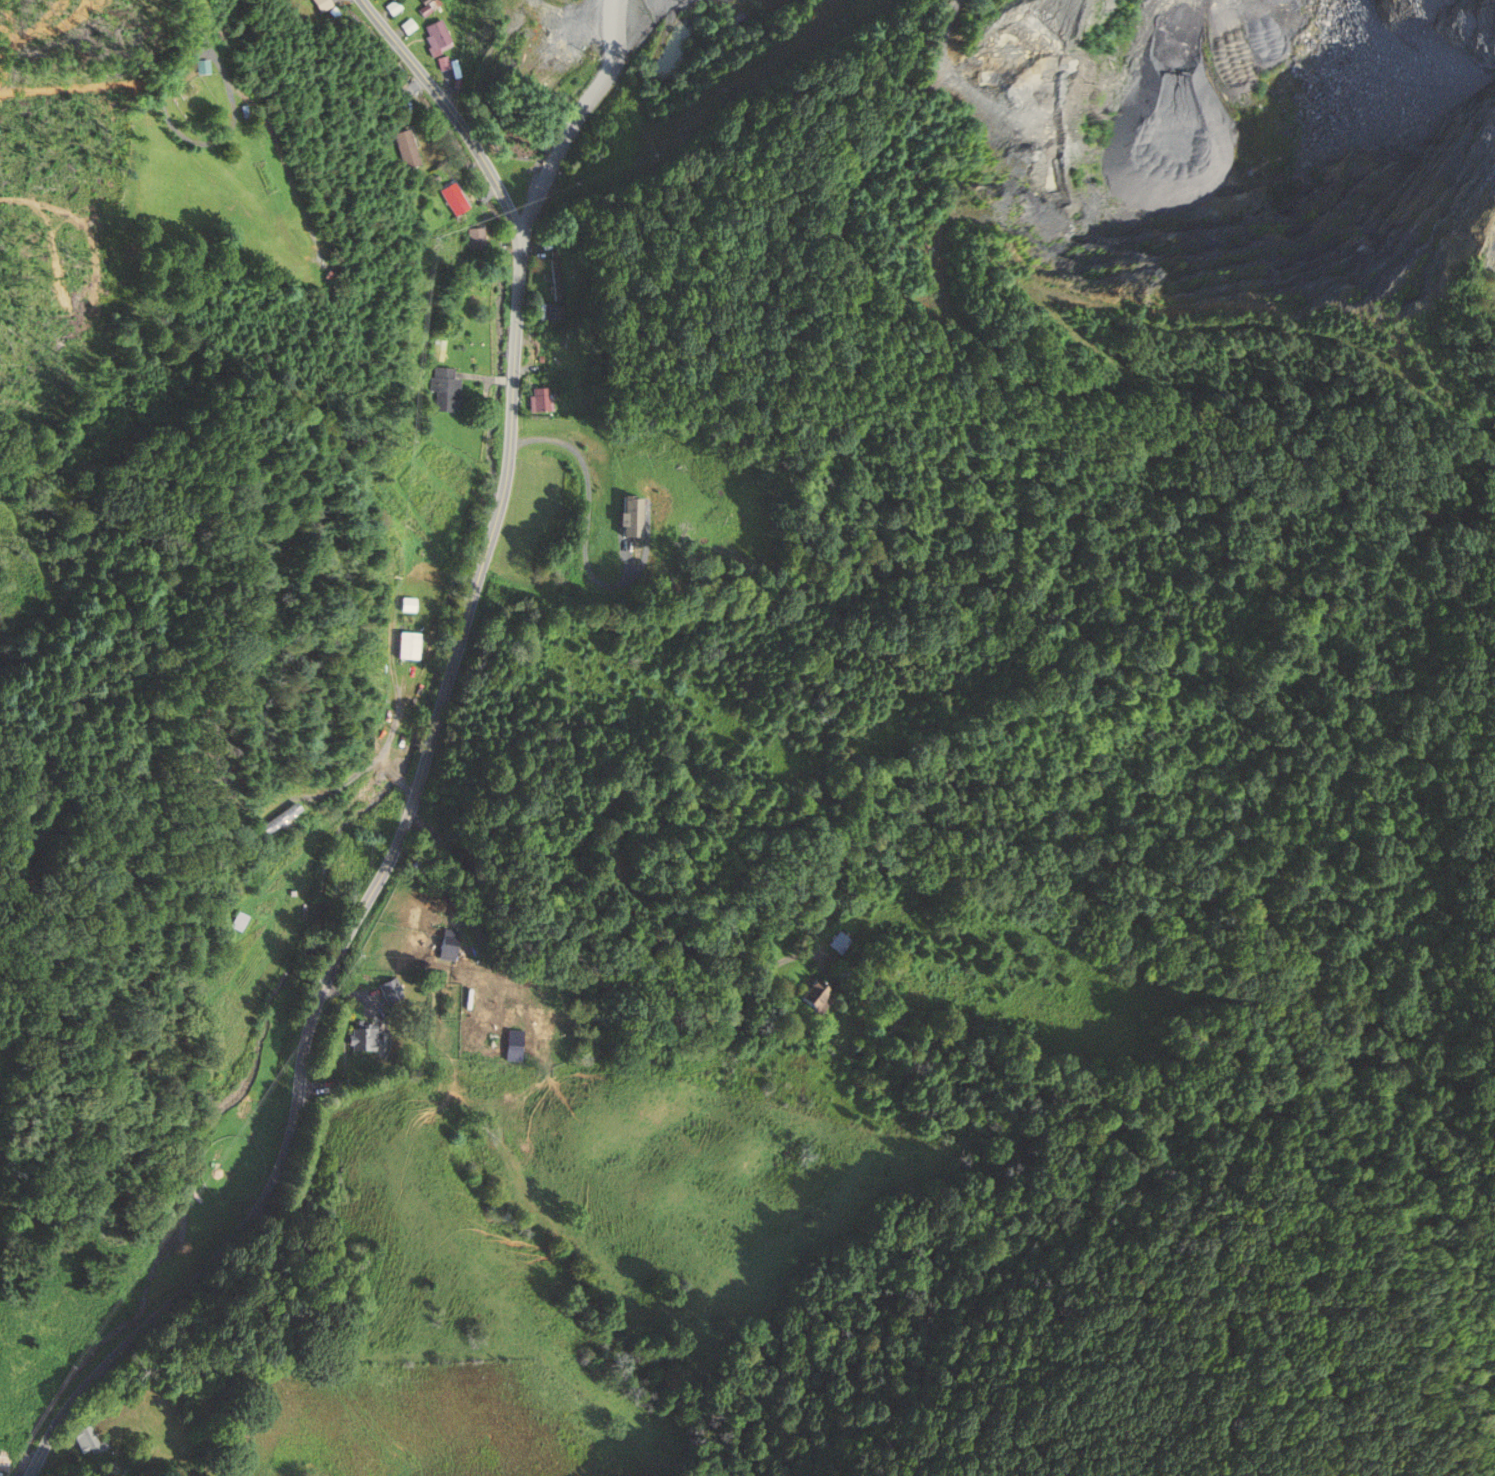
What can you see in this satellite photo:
building: (321, 4)
building: (436, 34)
building: (406, 148)
building: (521, 156)
building: (450, 198)
building: (472, 238)
building: (558, 278)
building: (551, 313)
building: (444, 390)
building: (539, 399)
building: (624, 518)
building: (407, 645)
road: (423, 770)
building: (275, 819)
building: (236, 921)
building: (843, 943)
building: (443, 945)
building: (387, 992)
building: (815, 999)
building: (360, 1039)
building: (83, 1441)
building: (1, 1456)

